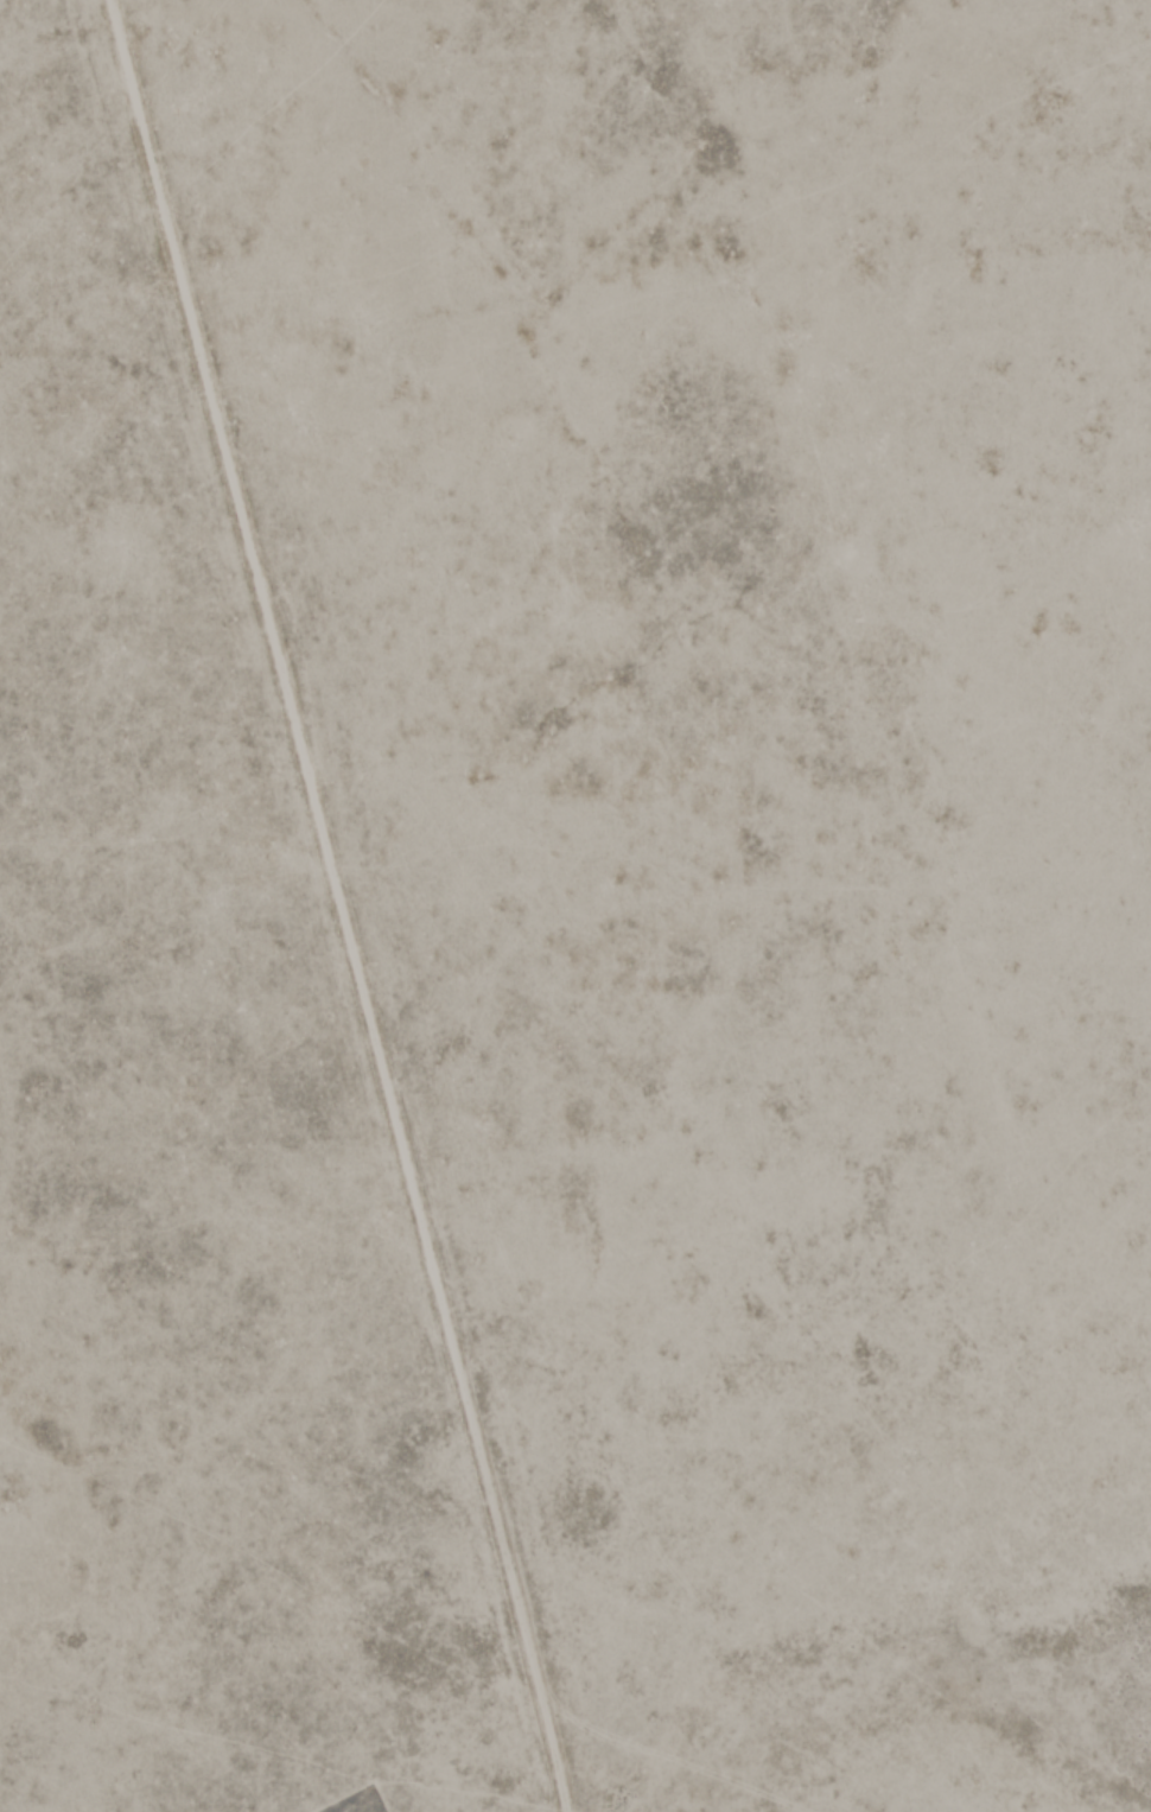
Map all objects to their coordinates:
road: (351, 903)
road: (769, 1284)

